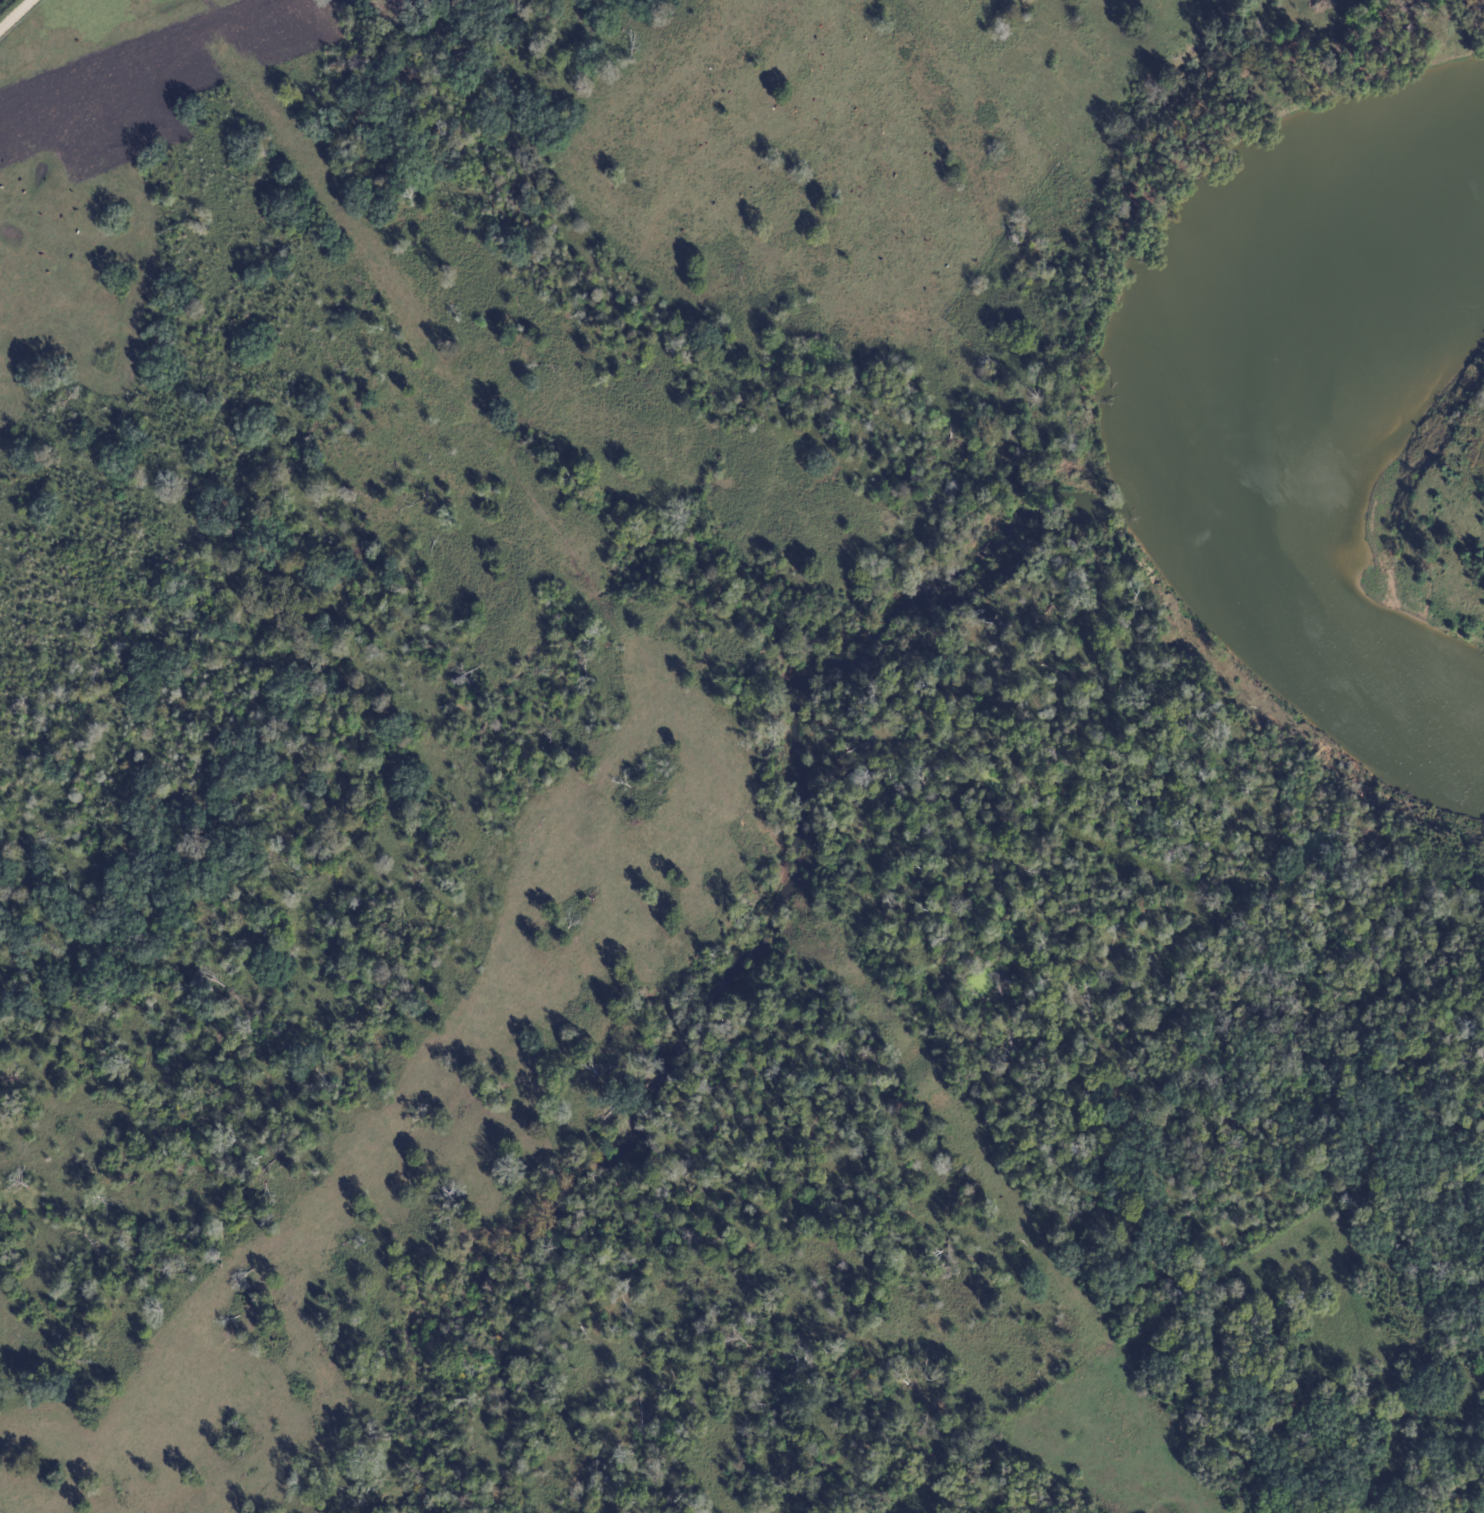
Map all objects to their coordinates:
road: (16, 14)
river: (1264, 453)

